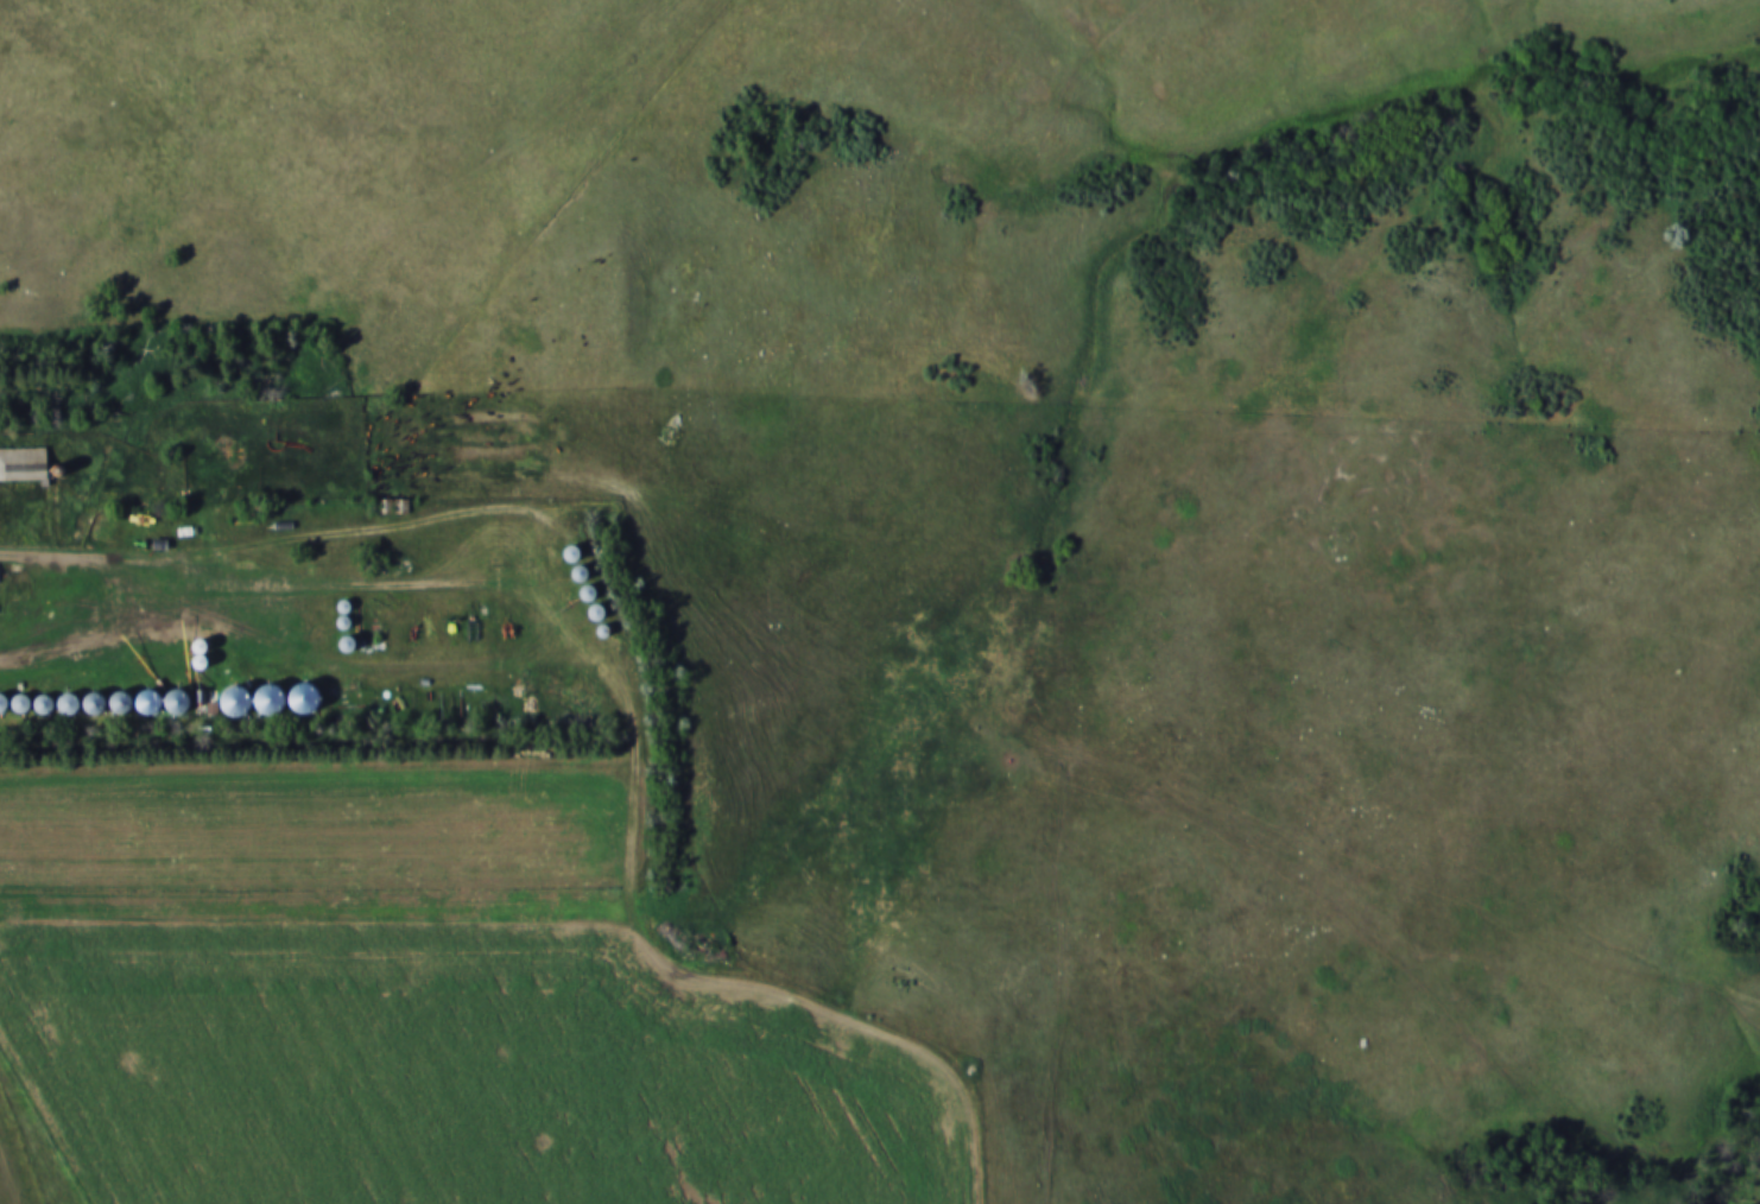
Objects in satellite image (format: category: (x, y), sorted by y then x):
building: (26, 463)
road: (310, 544)
building: (241, 702)

